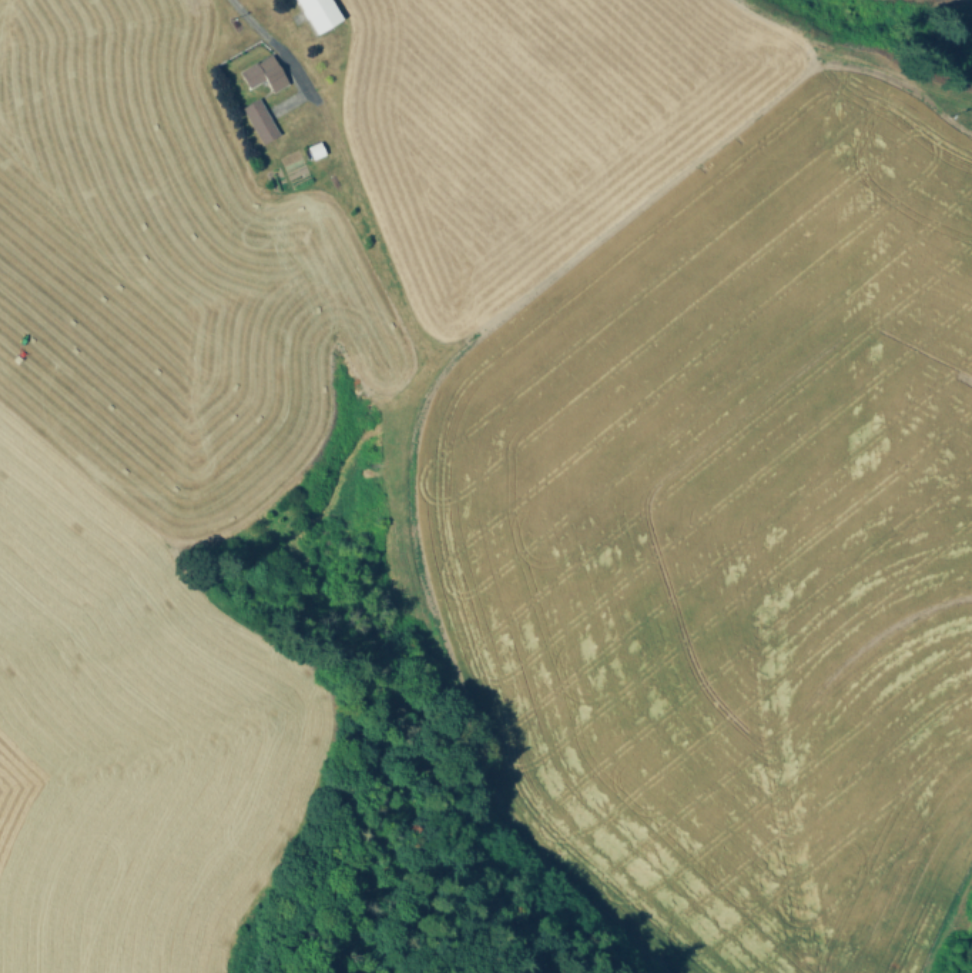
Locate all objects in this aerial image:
crop: (968, 0)
building: (320, 13)
road: (255, 23)
building: (265, 73)
building: (260, 120)
crop: (479, 464)

